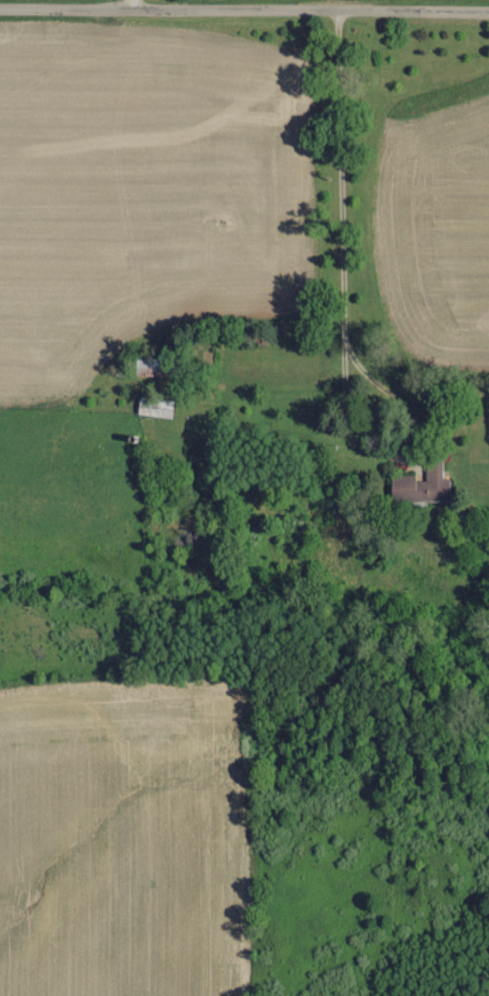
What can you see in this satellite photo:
road: (135, 2)
road: (244, 5)
road: (351, 230)
building: (421, 487)

